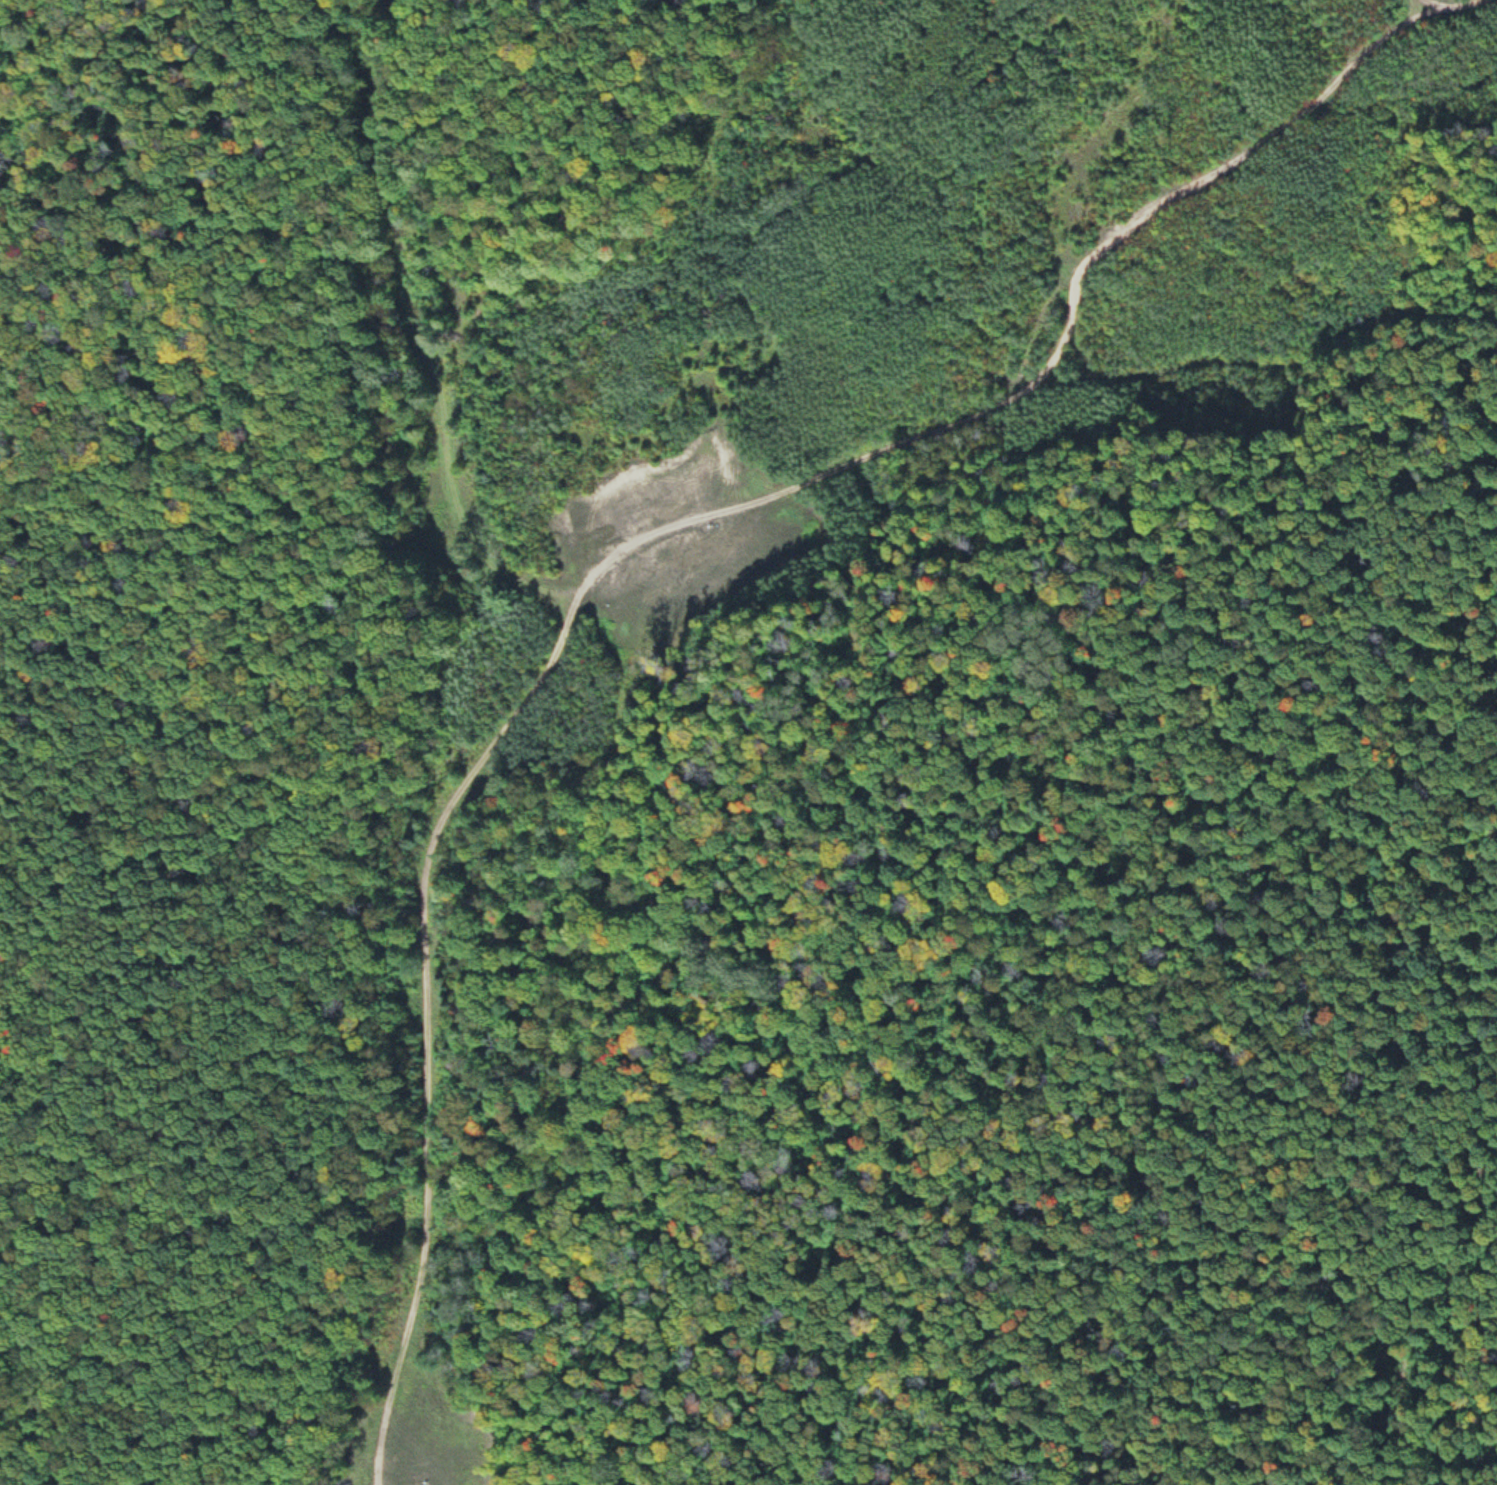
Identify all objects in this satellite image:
road: (1439, 3)
road: (633, 104)
road: (642, 543)
road: (206, 709)

